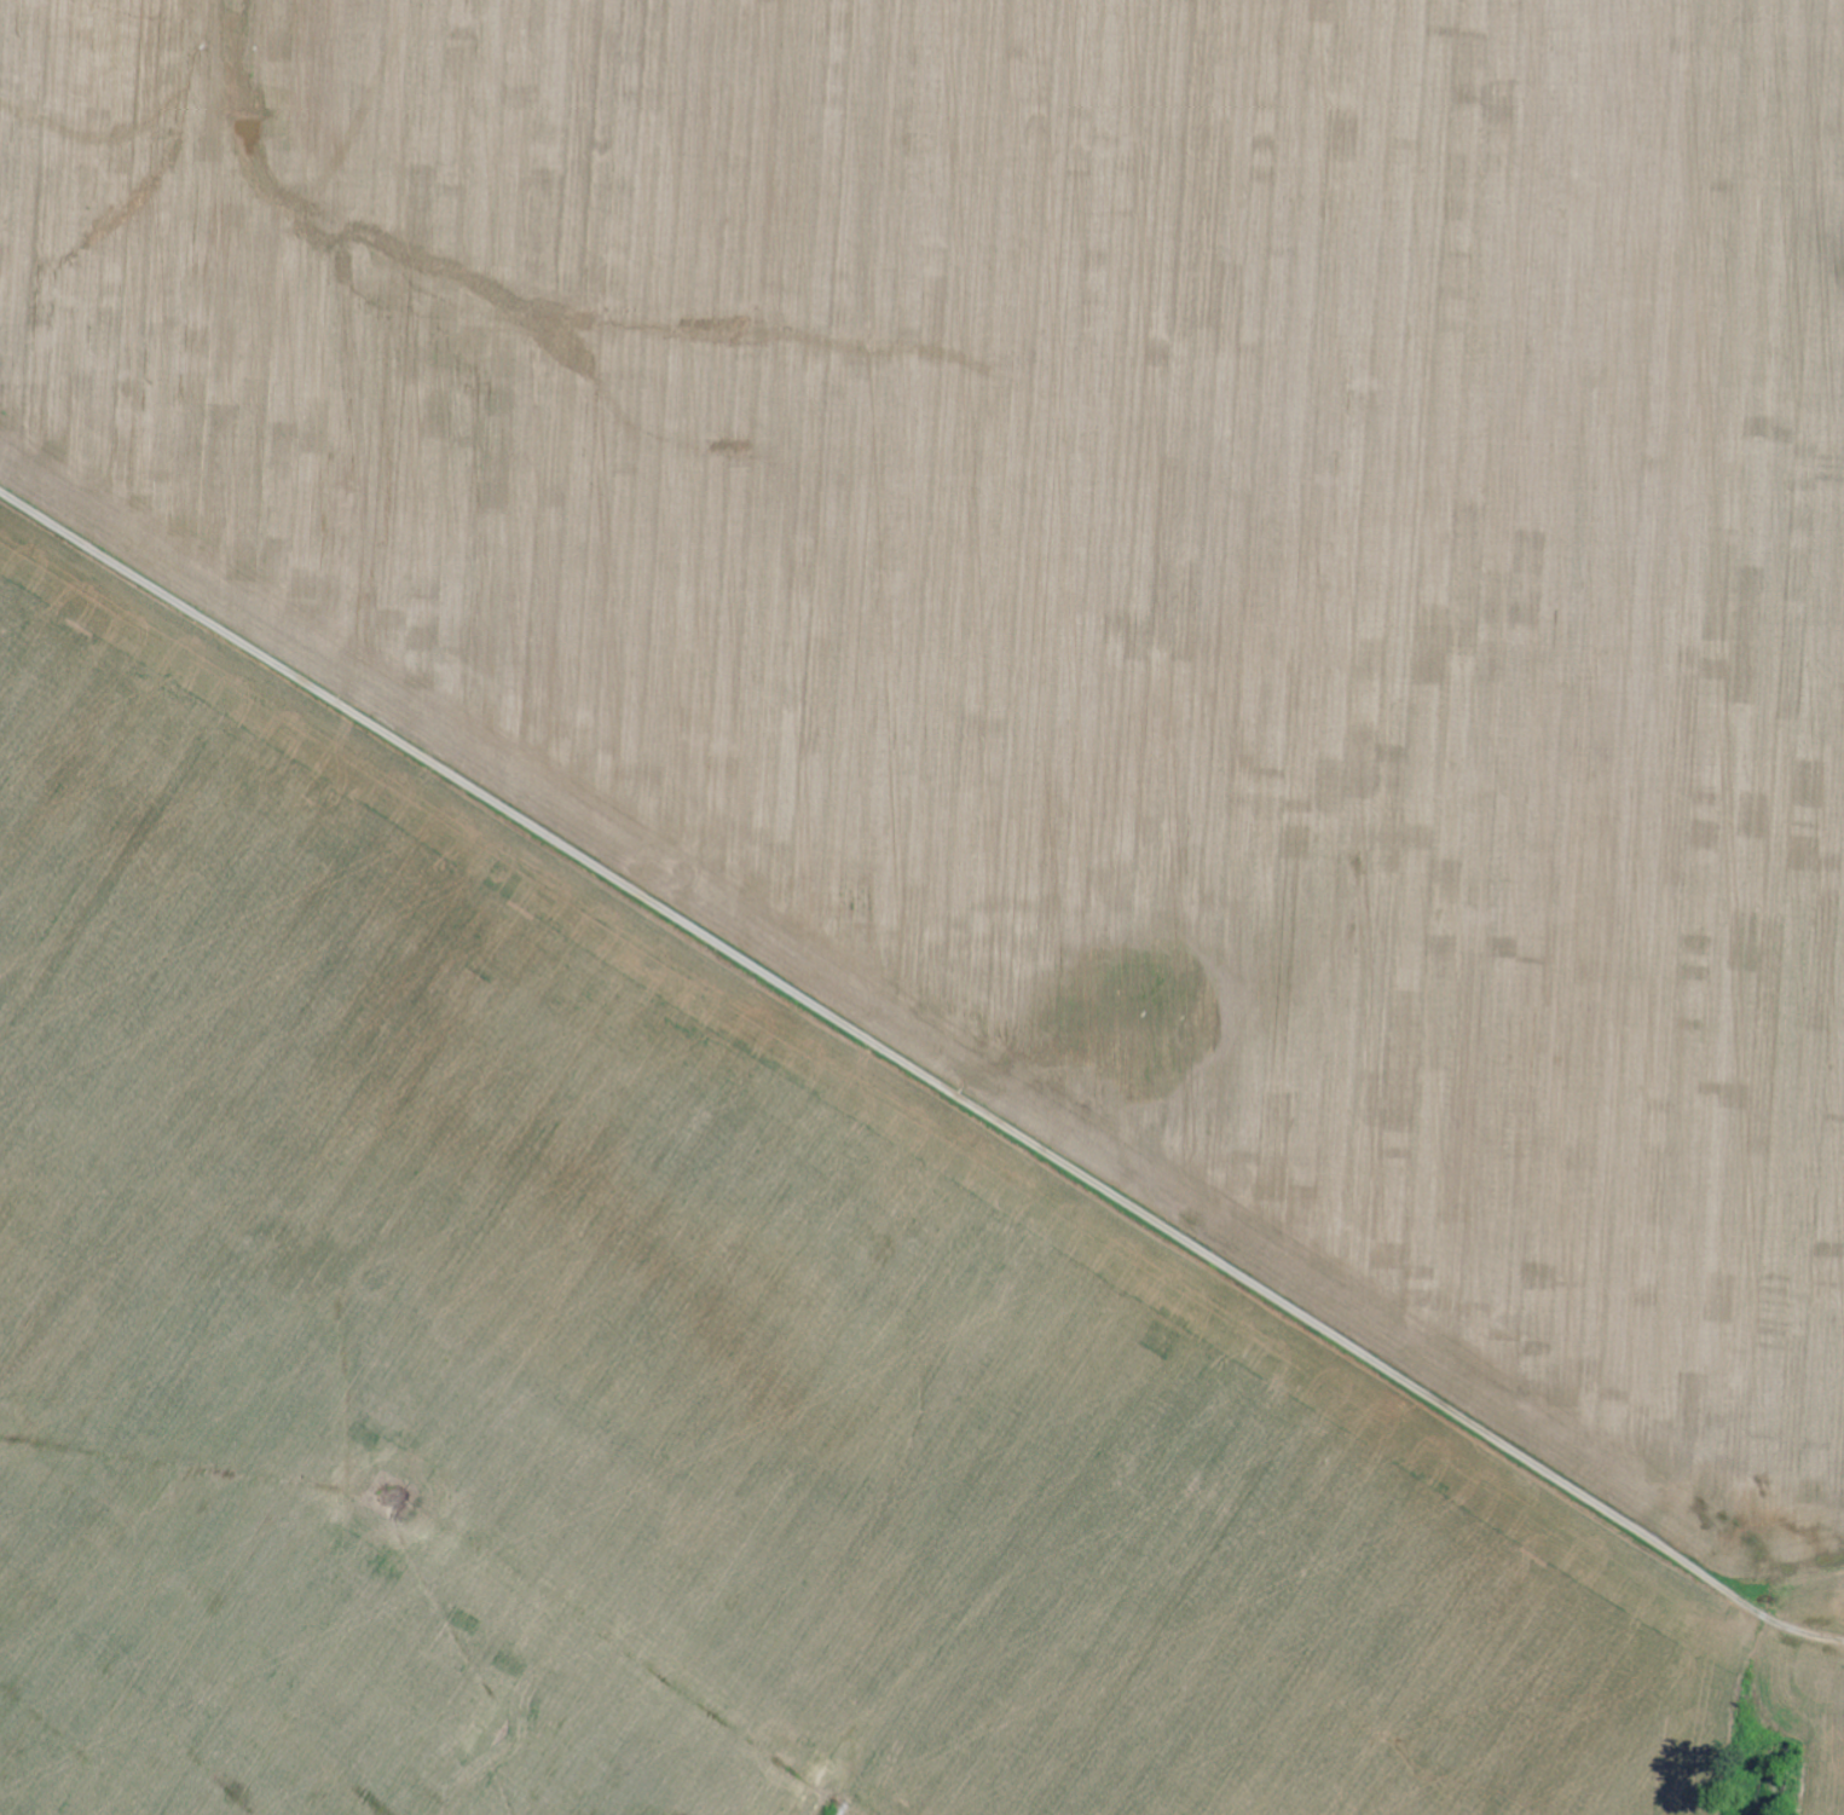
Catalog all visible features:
road: (919, 1073)

